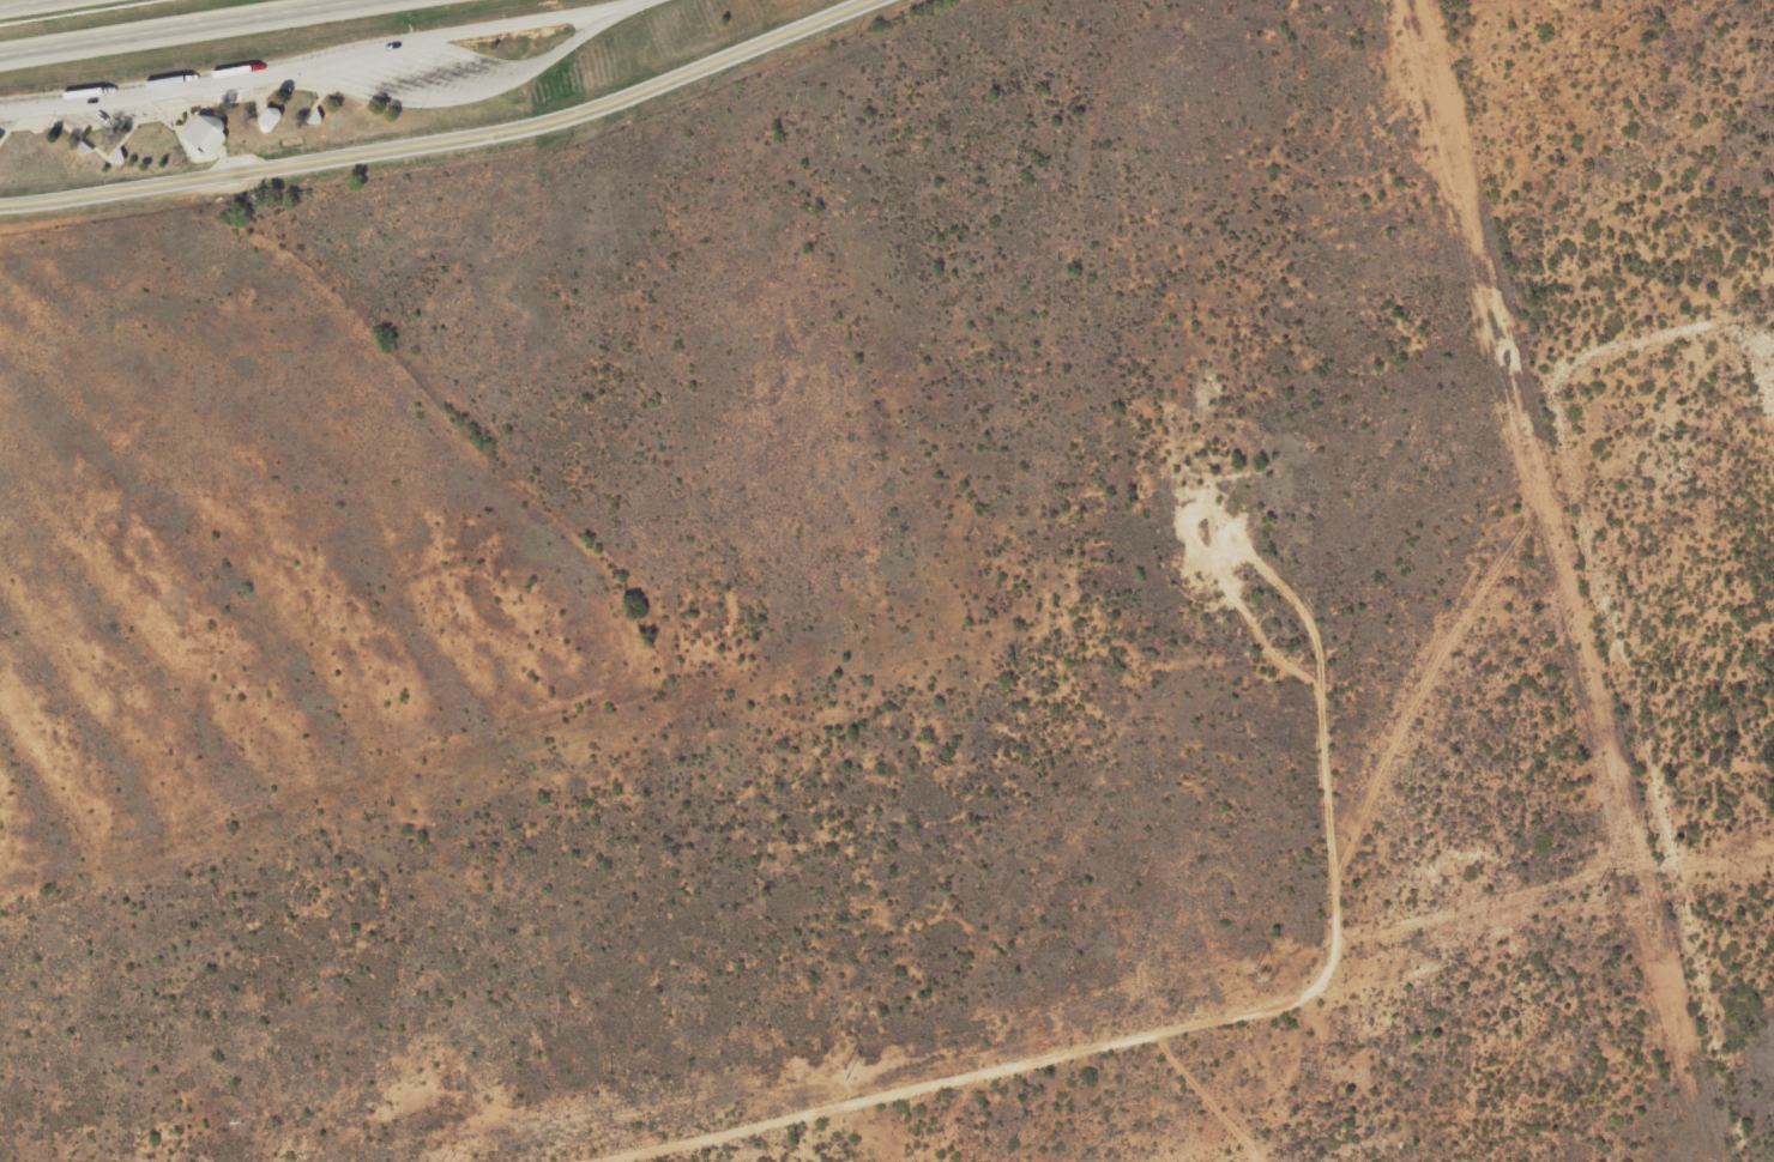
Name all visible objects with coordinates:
road: (18, 2)
road: (176, 26)
road: (319, 58)
road: (446, 98)
building: (272, 119)
road: (439, 137)
power tower: (1609, 890)
power tower: (1262, 979)
power tower: (837, 1076)

